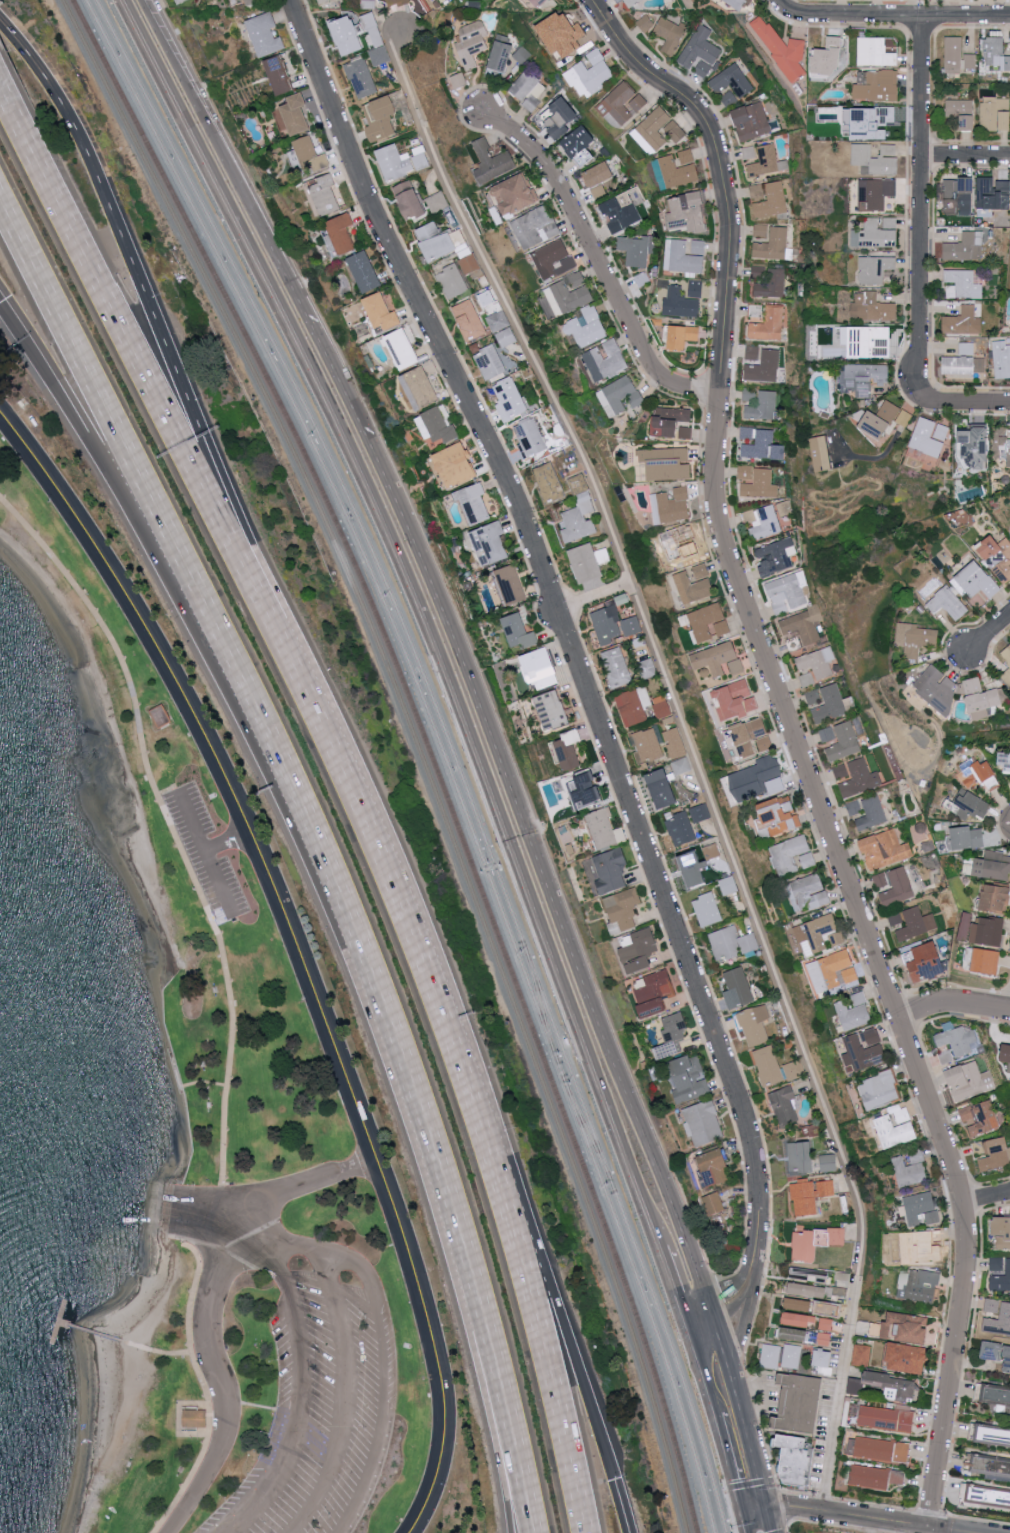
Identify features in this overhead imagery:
building: (242, 0)
building: (617, 0)
building: (180, 1)
building: (254, 1)
building: (324, 1)
building: (396, 2)
building: (540, 2)
building: (633, 2)
building: (738, 3)
road: (788, 7)
road: (146, 11)
road: (901, 14)
building: (645, 22)
building: (670, 33)
building: (265, 34)
building: (564, 34)
building: (346, 35)
building: (471, 42)
building: (782, 49)
building: (700, 52)
building: (874, 52)
building: (996, 53)
building: (953, 54)
building: (520, 55)
building: (501, 57)
building: (826, 57)
building: (971, 61)
building: (590, 72)
building: (279, 74)
building: (361, 78)
building: (459, 80)
building: (732, 80)
building: (878, 86)
building: (528, 89)
building: (729, 98)
road: (9, 104)
building: (621, 104)
building: (992, 111)
building: (961, 113)
building: (295, 114)
building: (380, 118)
building: (1004, 119)
building: (752, 121)
building: (873, 123)
building: (652, 130)
building: (675, 130)
building: (580, 145)
building: (307, 152)
building: (749, 152)
road: (965, 155)
building: (875, 158)
building: (421, 160)
building: (491, 161)
building: (767, 161)
building: (394, 162)
road: (229, 167)
building: (599, 178)
building: (875, 193)
building: (516, 194)
building: (325, 195)
building: (959, 196)
building: (989, 198)
building: (410, 199)
road: (920, 199)
building: (772, 200)
building: (437, 201)
building: (621, 208)
building: (688, 213)
building: (615, 225)
building: (535, 227)
building: (428, 231)
building: (341, 233)
building: (877, 233)
building: (772, 244)
building: (440, 246)
building: (698, 247)
building: (964, 247)
building: (634, 250)
building: (682, 257)
building: (553, 259)
road: (596, 261)
building: (470, 263)
building: (874, 268)
building: (364, 271)
building: (641, 278)
building: (452, 281)
building: (768, 281)
building: (963, 283)
road: (145, 288)
building: (569, 293)
building: (684, 300)
road: (0, 301)
building: (548, 306)
building: (872, 307)
building: (381, 312)
building: (468, 319)
building: (498, 320)
building: (963, 322)
building: (769, 324)
building: (586, 327)
building: (506, 336)
building: (682, 336)
building: (402, 348)
building: (966, 348)
road: (137, 352)
building: (753, 354)
building: (1001, 359)
road: (331, 361)
building: (605, 361)
building: (489, 362)
road: (84, 365)
building: (958, 365)
road: (44, 366)
building: (764, 367)
building: (862, 378)
building: (419, 388)
building: (619, 396)
building: (508, 398)
road: (961, 402)
building: (762, 406)
building: (895, 413)
building: (671, 422)
building: (876, 425)
building: (436, 426)
building: (530, 436)
building: (929, 436)
building: (1005, 443)
building: (758, 444)
building: (976, 446)
building: (778, 452)
building: (821, 453)
building: (667, 463)
building: (456, 465)
building: (744, 472)
building: (548, 481)
road: (129, 483)
building: (760, 484)
building: (474, 504)
building: (671, 505)
building: (580, 512)
building: (764, 523)
building: (490, 543)
building: (676, 543)
building: (776, 556)
building: (997, 556)
building: (589, 562)
building: (701, 571)
building: (975, 583)
building: (511, 584)
building: (693, 587)
road: (594, 600)
building: (946, 603)
road: (415, 612)
railway: (390, 622)
railway: (399, 622)
building: (708, 622)
building: (613, 625)
building: (803, 625)
road: (565, 629)
road: (988, 631)
building: (519, 632)
building: (915, 638)
building: (1006, 654)
building: (718, 659)
building: (816, 662)
building: (543, 663)
building: (616, 667)
building: (647, 668)
building: (1006, 676)
building: (806, 679)
building: (937, 689)
building: (737, 699)
building: (983, 699)
building: (829, 704)
building: (634, 705)
building: (661, 706)
building: (552, 710)
building: (160, 715)
building: (826, 734)
building: (751, 738)
building: (844, 741)
building: (675, 742)
building: (648, 744)
road: (796, 746)
railway: (417, 748)
railway: (426, 748)
building: (566, 749)
road: (691, 756)
building: (1005, 759)
building: (681, 766)
building: (839, 770)
building: (974, 772)
building: (860, 778)
building: (758, 779)
building: (663, 789)
building: (586, 790)
building: (975, 804)
building: (853, 807)
building: (701, 812)
building: (871, 813)
building: (602, 828)
building: (682, 830)
building: (968, 838)
road: (225, 841)
building: (884, 849)
building: (711, 851)
building: (788, 854)
road: (204, 855)
parking lot: (206, 856)
building: (808, 860)
building: (993, 866)
building: (691, 869)
building: (609, 872)
road: (548, 885)
building: (898, 887)
building: (996, 899)
road: (406, 903)
building: (706, 910)
building: (621, 911)
building: (916, 924)
building: (989, 932)
building: (815, 934)
building: (731, 944)
road: (296, 949)
building: (636, 951)
building: (986, 961)
building: (927, 962)
road: (369, 966)
building: (832, 971)
building: (738, 987)
building: (652, 988)
road: (231, 996)
railway: (538, 1000)
road: (952, 1001)
building: (650, 1009)
building: (854, 1012)
building: (754, 1024)
building: (673, 1034)
building: (957, 1038)
building: (864, 1049)
building: (1007, 1056)
building: (944, 1057)
building: (768, 1064)
building: (690, 1078)
building: (968, 1080)
building: (879, 1089)
building: (785, 1105)
building: (969, 1116)
building: (985, 1119)
building: (703, 1122)
building: (893, 1131)
railway: (587, 1135)
building: (995, 1154)
building: (800, 1156)
building: (828, 1162)
building: (714, 1166)
building: (910, 1169)
park: (241, 1177)
road: (308, 1185)
building: (810, 1195)
road: (986, 1200)
road: (179, 1203)
building: (714, 1203)
building: (920, 1208)
building: (1002, 1232)
building: (814, 1241)
building: (921, 1246)
road: (303, 1253)
building: (996, 1265)
building: (808, 1274)
road: (674, 1284)
building: (920, 1285)
building: (806, 1289)
road: (732, 1300)
building: (799, 1304)
road: (699, 1316)
building: (800, 1319)
pier: (57, 1321)
building: (999, 1321)
building: (826, 1323)
road: (741, 1324)
building: (902, 1327)
pier: (91, 1332)
building: (794, 1333)
building: (824, 1338)
road: (213, 1349)
building: (992, 1350)
road: (158, 1352)
road: (573, 1355)
building: (861, 1355)
building: (770, 1356)
building: (791, 1356)
building: (823, 1357)
building: (906, 1357)
building: (1007, 1360)
road: (701, 1374)
building: (854, 1386)
building: (894, 1386)
road: (548, 1387)
road: (736, 1389)
building: (992, 1393)
road: (764, 1394)
parking lot: (323, 1397)
road: (342, 1397)
railway: (687, 1400)
railway: (676, 1401)
building: (800, 1402)
building: (195, 1418)
building: (886, 1418)
building: (991, 1435)
building: (881, 1449)
building: (795, 1458)
road: (755, 1461)
building: (990, 1466)
road: (728, 1470)
road: (511, 1477)
road: (519, 1477)
building: (875, 1477)
road: (751, 1488)
building: (985, 1495)
road: (621, 1505)
road: (795, 1507)
traffic signals: (767, 1508)
road: (753, 1511)
road: (731, 1514)
traffic signals: (739, 1515)
road: (768, 1520)
road: (894, 1522)
road: (740, 1524)

